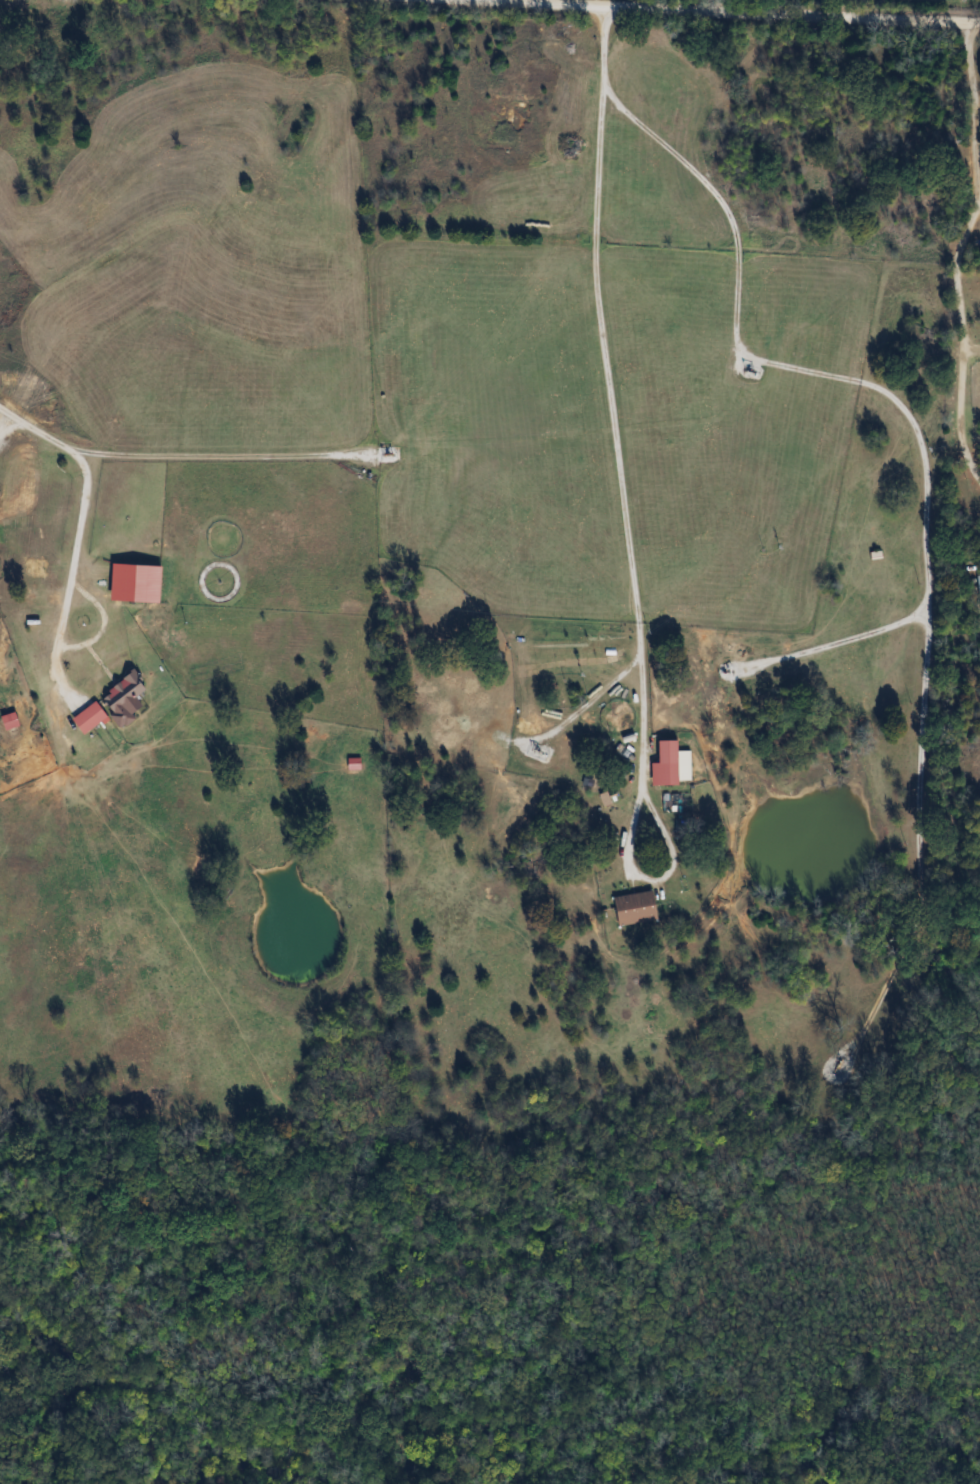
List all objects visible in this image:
road: (743, 13)
road: (976, 98)
road: (603, 309)
road: (963, 338)
road: (81, 529)
building: (978, 594)
building: (121, 692)
building: (8, 721)
building: (633, 909)

